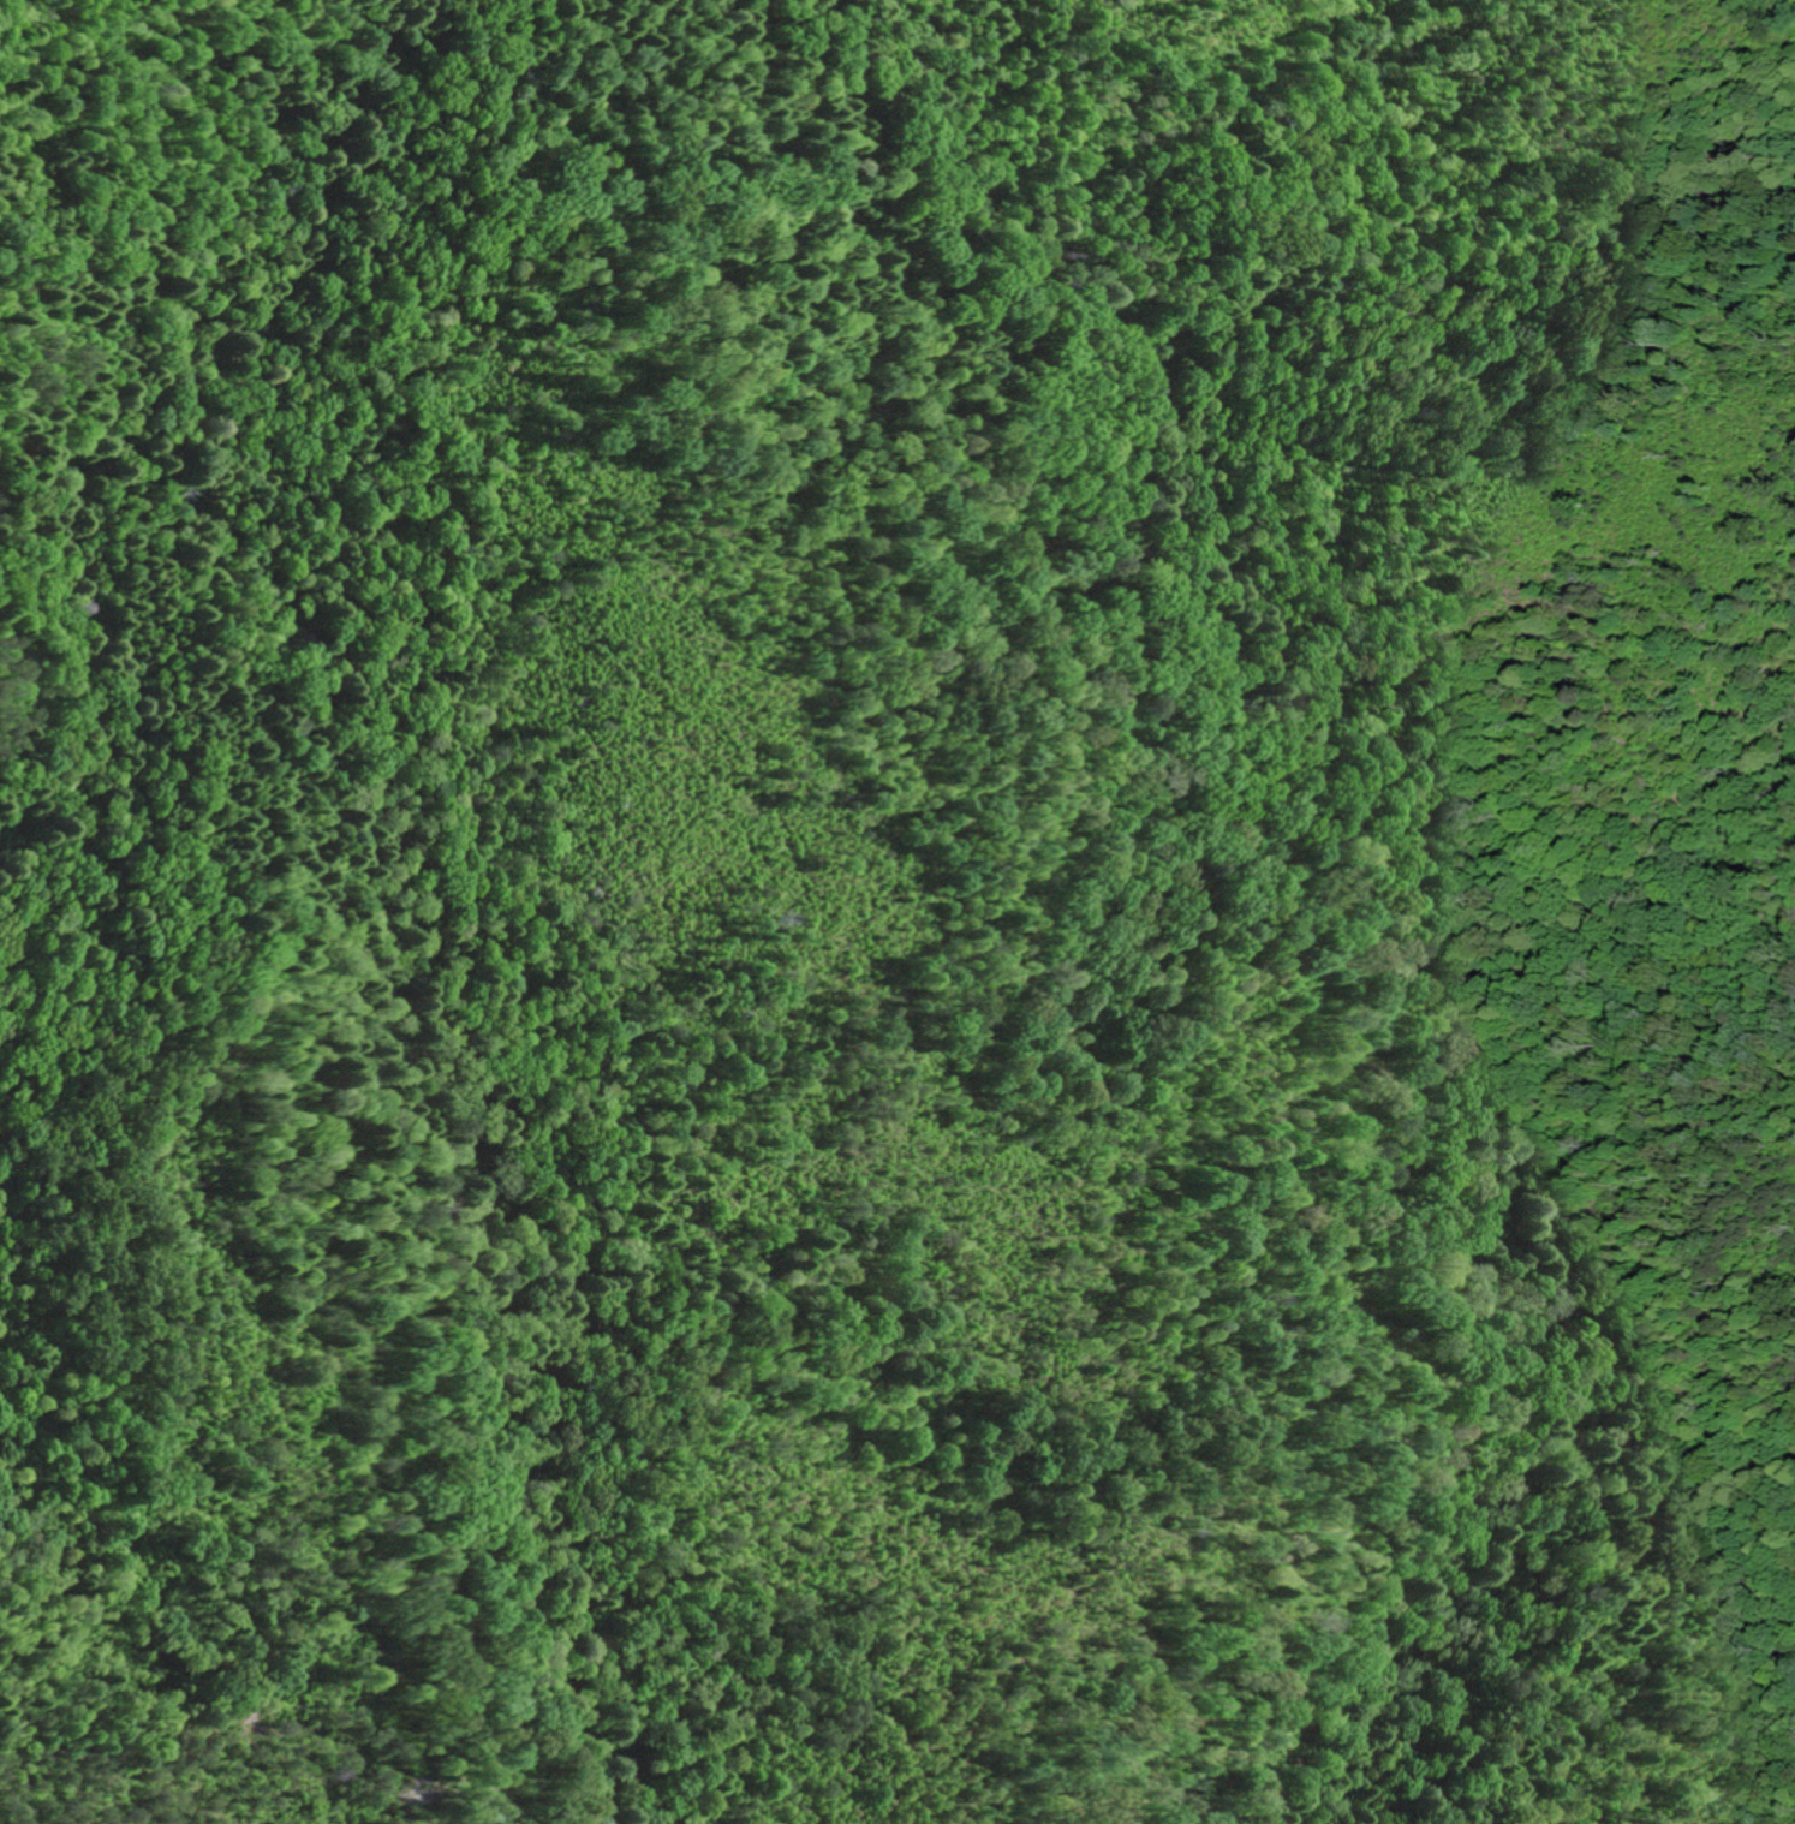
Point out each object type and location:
road: (910, 1488)

